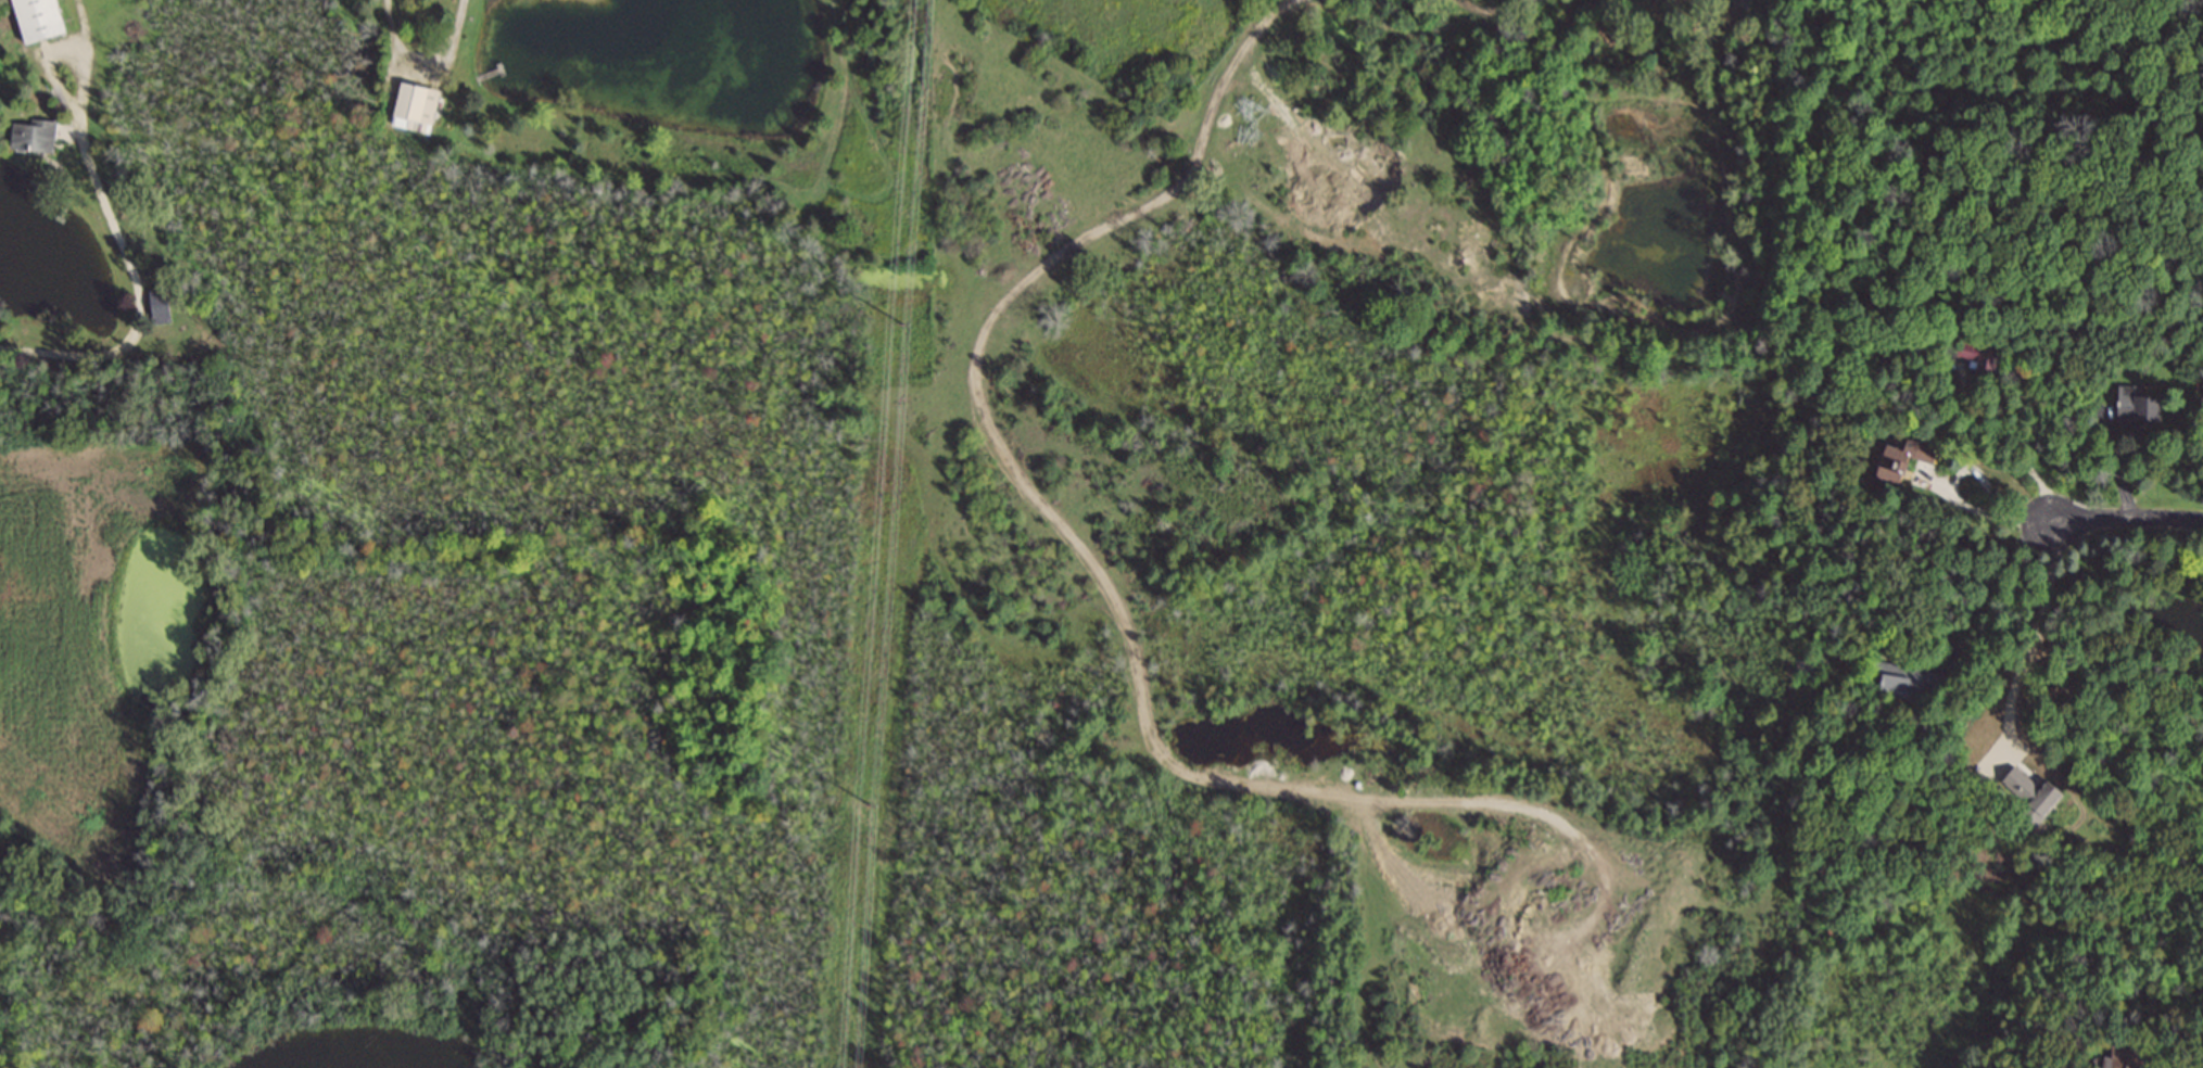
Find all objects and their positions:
road: (1491, 11)
building: (36, 21)
road: (419, 63)
building: (415, 109)
building: (31, 138)
road: (135, 285)
building: (159, 307)
power tower: (899, 326)
building: (1976, 356)
road: (976, 404)
building: (2135, 408)
road: (1995, 444)
building: (1900, 461)
road: (1952, 498)
road: (2127, 519)
road: (1990, 585)
road: (2035, 637)
building: (1904, 681)
building: (2029, 793)
power tower: (868, 808)
building: (2126, 1052)

